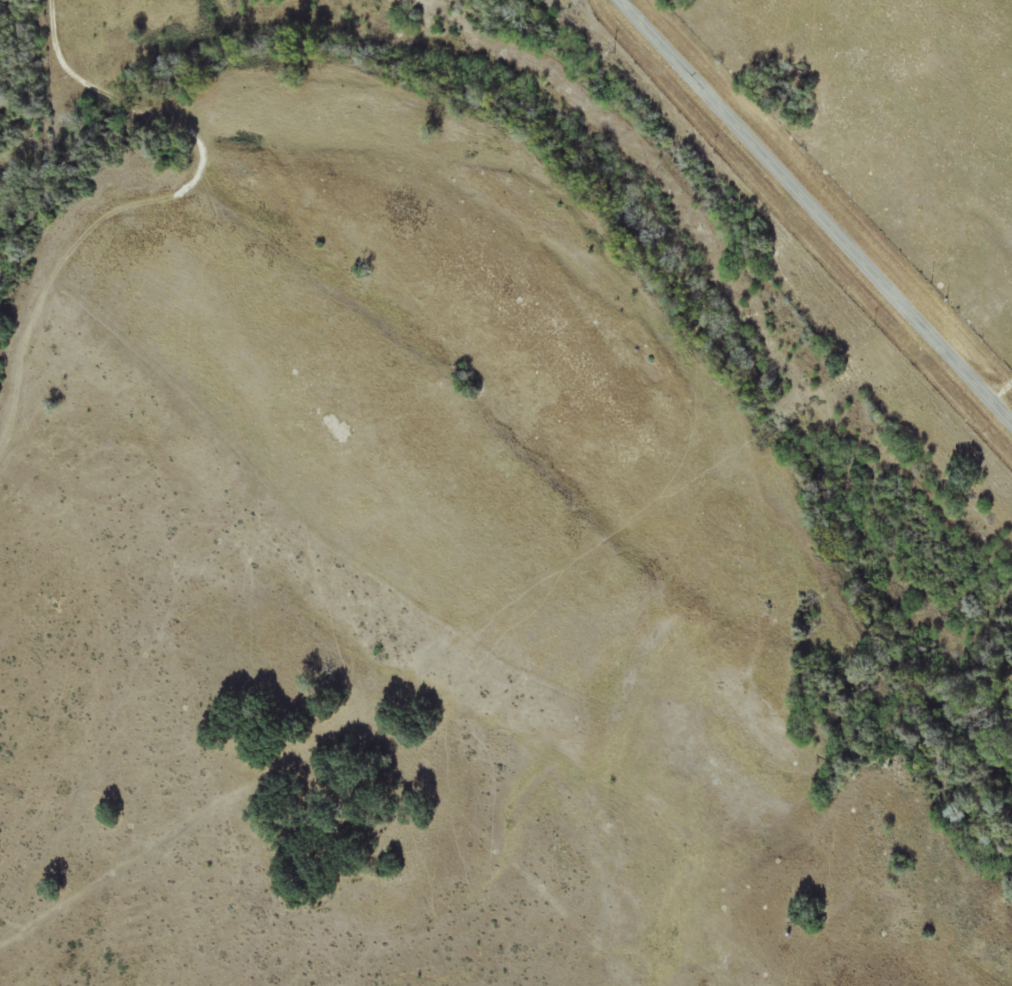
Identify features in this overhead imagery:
road: (815, 211)

